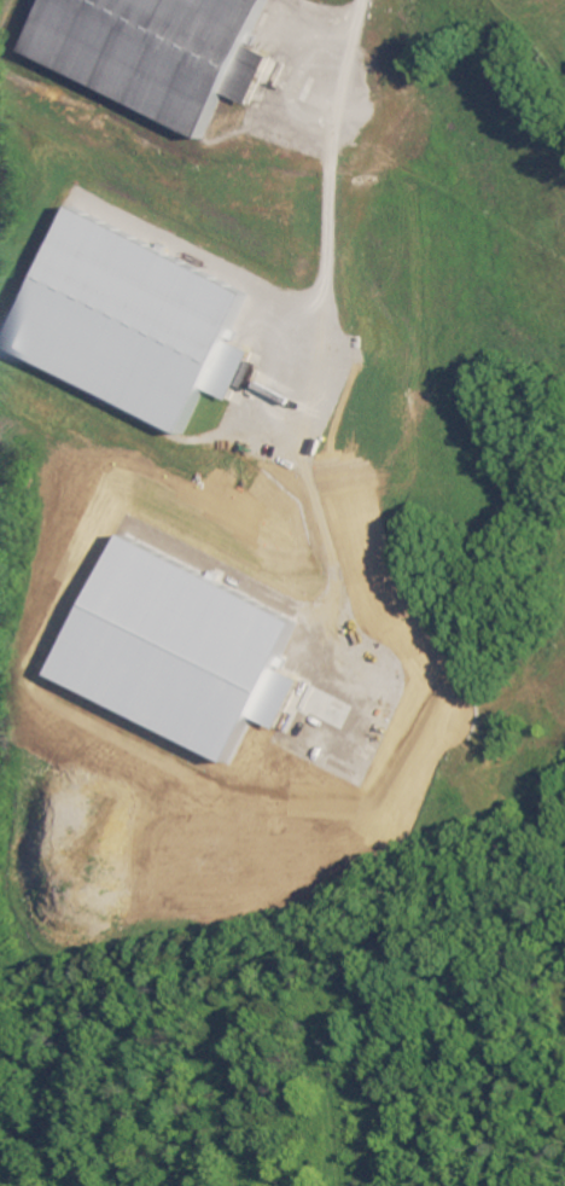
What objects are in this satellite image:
building: (157, 52)

